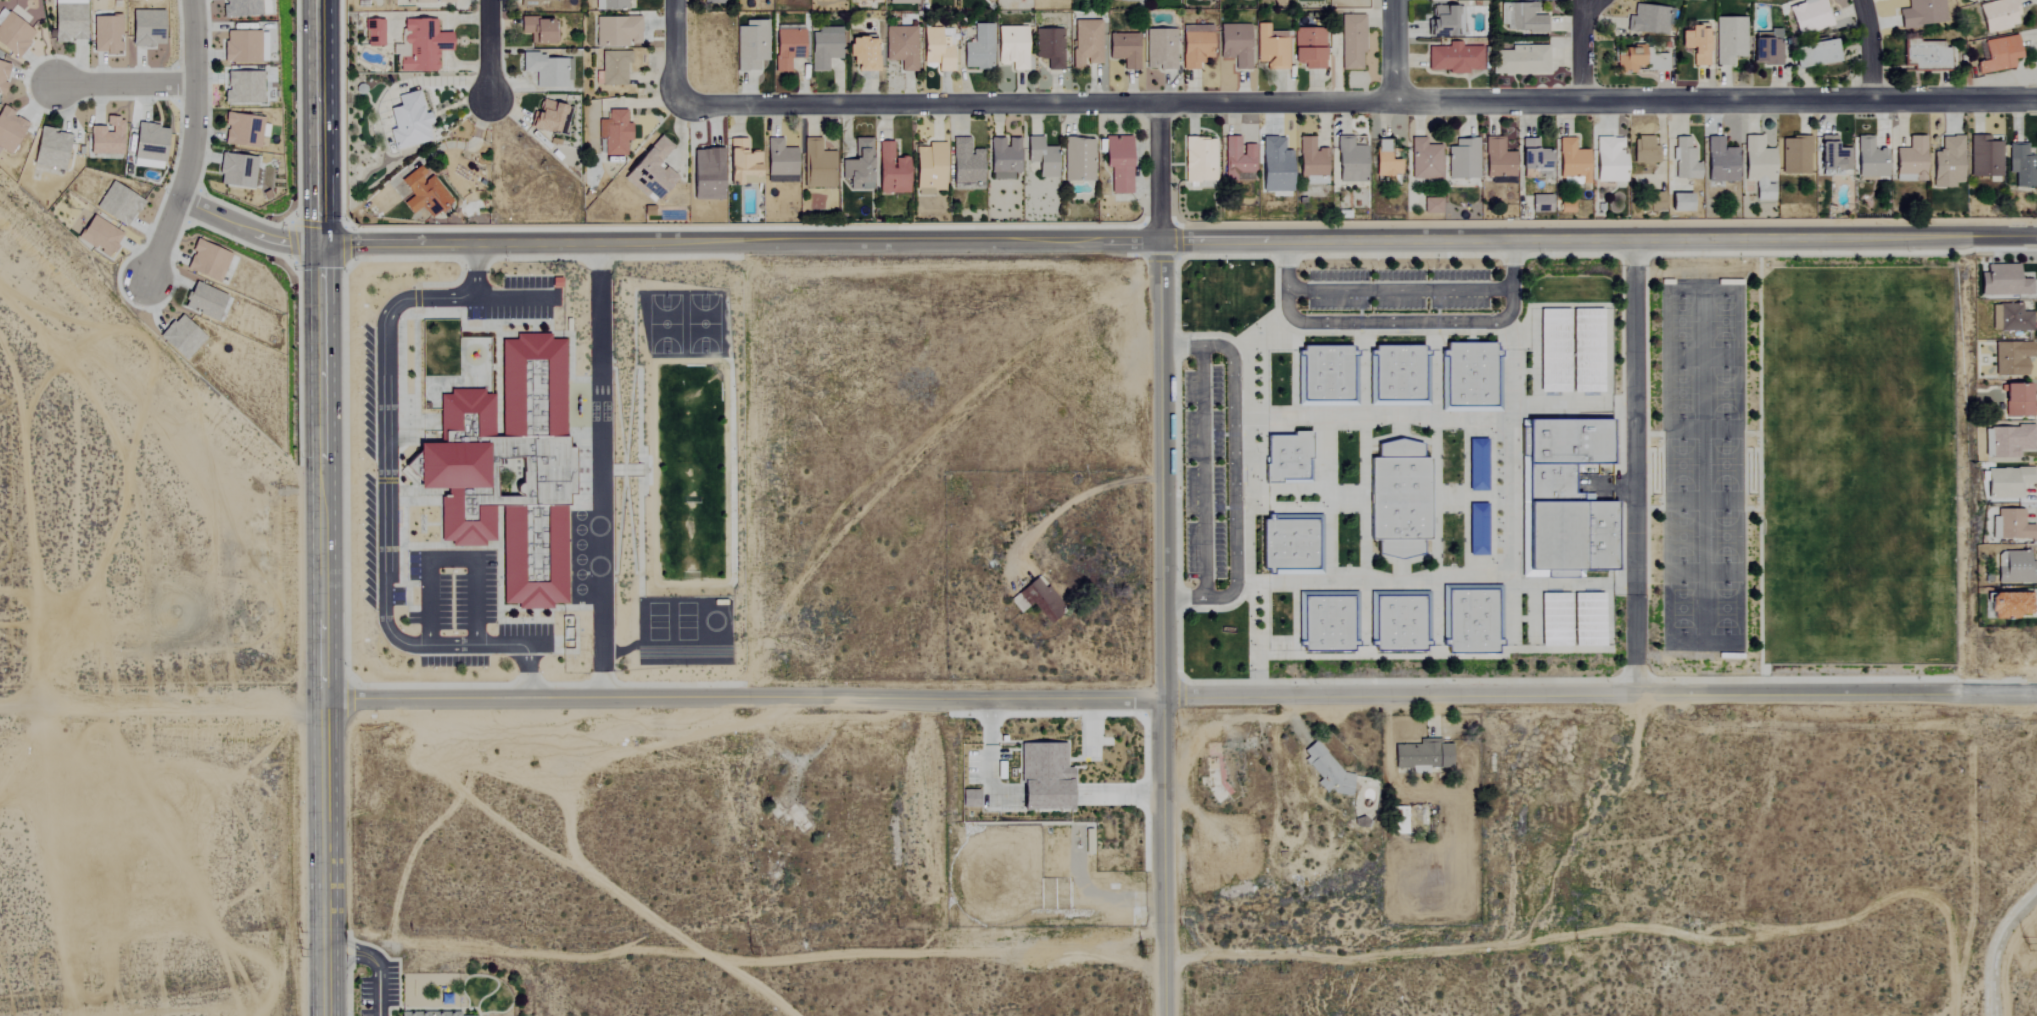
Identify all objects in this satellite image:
park: (1753, 0)
building: (1970, 0)
building: (711, 2)
building: (902, 2)
building: (610, 4)
building: (240, 8)
building: (1922, 13)
building: (1997, 15)
building: (1519, 17)
building: (1808, 17)
building: (68, 20)
building: (1649, 20)
building: (1445, 22)
building: (145, 28)
building: (536, 30)
building: (616, 32)
building: (373, 33)
building: (105, 34)
building: (13, 36)
building: (1729, 40)
building: (1085, 43)
building: (1351, 43)
building: (1696, 44)
building: (420, 45)
building: (751, 45)
building: (1195, 45)
building: (1234, 45)
building: (243, 46)
building: (824, 47)
building: (901, 47)
building: (1011, 47)
building: (1048, 47)
building: (1270, 47)
building: (1766, 47)
building: (787, 48)
building: (978, 48)
building: (1308, 48)
road: (1868, 48)
building: (936, 49)
building: (1123, 49)
building: (1160, 49)
road: (1583, 49)
road: (495, 50)
road: (1393, 50)
road: (679, 52)
building: (861, 54)
building: (1813, 54)
building: (1998, 54)
building: (1927, 56)
building: (1453, 58)
building: (1521, 60)
building: (1641, 60)
building: (614, 67)
building: (547, 70)
building: (2, 75)
road: (124, 84)
building: (242, 87)
road: (1358, 101)
building: (545, 117)
road: (318, 122)
building: (408, 122)
building: (9, 130)
building: (241, 130)
building: (613, 132)
building: (106, 138)
road: (194, 144)
building: (148, 146)
building: (50, 149)
building: (1644, 151)
building: (1534, 155)
building: (1795, 156)
building: (1833, 156)
building: (1041, 157)
building: (1003, 158)
building: (1870, 158)
building: (1984, 158)
building: (1462, 159)
building: (1497, 159)
building: (1078, 160)
building: (1198, 160)
building: (1237, 160)
building: (1350, 160)
building: (1384, 160)
building: (1424, 160)
building: (1572, 160)
building: (1609, 160)
building: (1683, 160)
building: (1910, 160)
building: (1311, 161)
building: (779, 162)
building: (965, 162)
building: (1720, 162)
building: (1118, 163)
building: (1947, 163)
building: (741, 164)
building: (816, 165)
building: (857, 166)
building: (1275, 166)
building: (2021, 166)
building: (1759, 167)
building: (928, 169)
building: (650, 170)
building: (890, 170)
building: (235, 171)
building: (706, 174)
building: (421, 193)
building: (1680, 203)
building: (117, 204)
building: (1540, 204)
building: (1431, 205)
building: (1566, 207)
road: (247, 231)
building: (98, 236)
road: (1178, 241)
traffic signals: (320, 244)
building: (206, 262)
road: (477, 270)
building: (2004, 282)
road: (1399, 290)
road: (515, 297)
parking lot: (516, 300)
building: (203, 301)
building: (2011, 319)
road: (1398, 321)
building: (179, 338)
building: (1553, 351)
building: (1586, 351)
building: (2011, 359)
building: (1325, 377)
building: (1397, 377)
building: (1469, 379)
building: (2016, 401)
building: (496, 422)
building: (2009, 441)
road: (1232, 454)
building: (1287, 459)
park: (1701, 465)
road: (1635, 466)
park: (1856, 466)
road: (603, 468)
building: (508, 470)
road: (1202, 472)
building: (2008, 482)
road: (1077, 499)
building: (1398, 499)
building: (1562, 500)
road: (388, 520)
building: (2013, 526)
building: (1477, 529)
building: (1291, 544)
road: (450, 559)
road: (1162, 559)
building: (2015, 568)
road: (324, 596)
road: (1183, 598)
building: (1041, 600)
building: (2009, 605)
parking lot: (460, 611)
building: (1470, 619)
building: (1587, 619)
building: (1554, 620)
building: (1327, 621)
building: (1398, 622)
road: (1181, 693)
road: (184, 701)
building: (1421, 756)
building: (1325, 768)
building: (1043, 777)
building: (969, 798)
power tower: (2025, 946)
power tower: (1580, 947)
power tower: (750, 950)
power tower: (1142, 951)
power tower: (295, 952)
road: (375, 964)
road: (328, 982)
building: (434, 1014)

